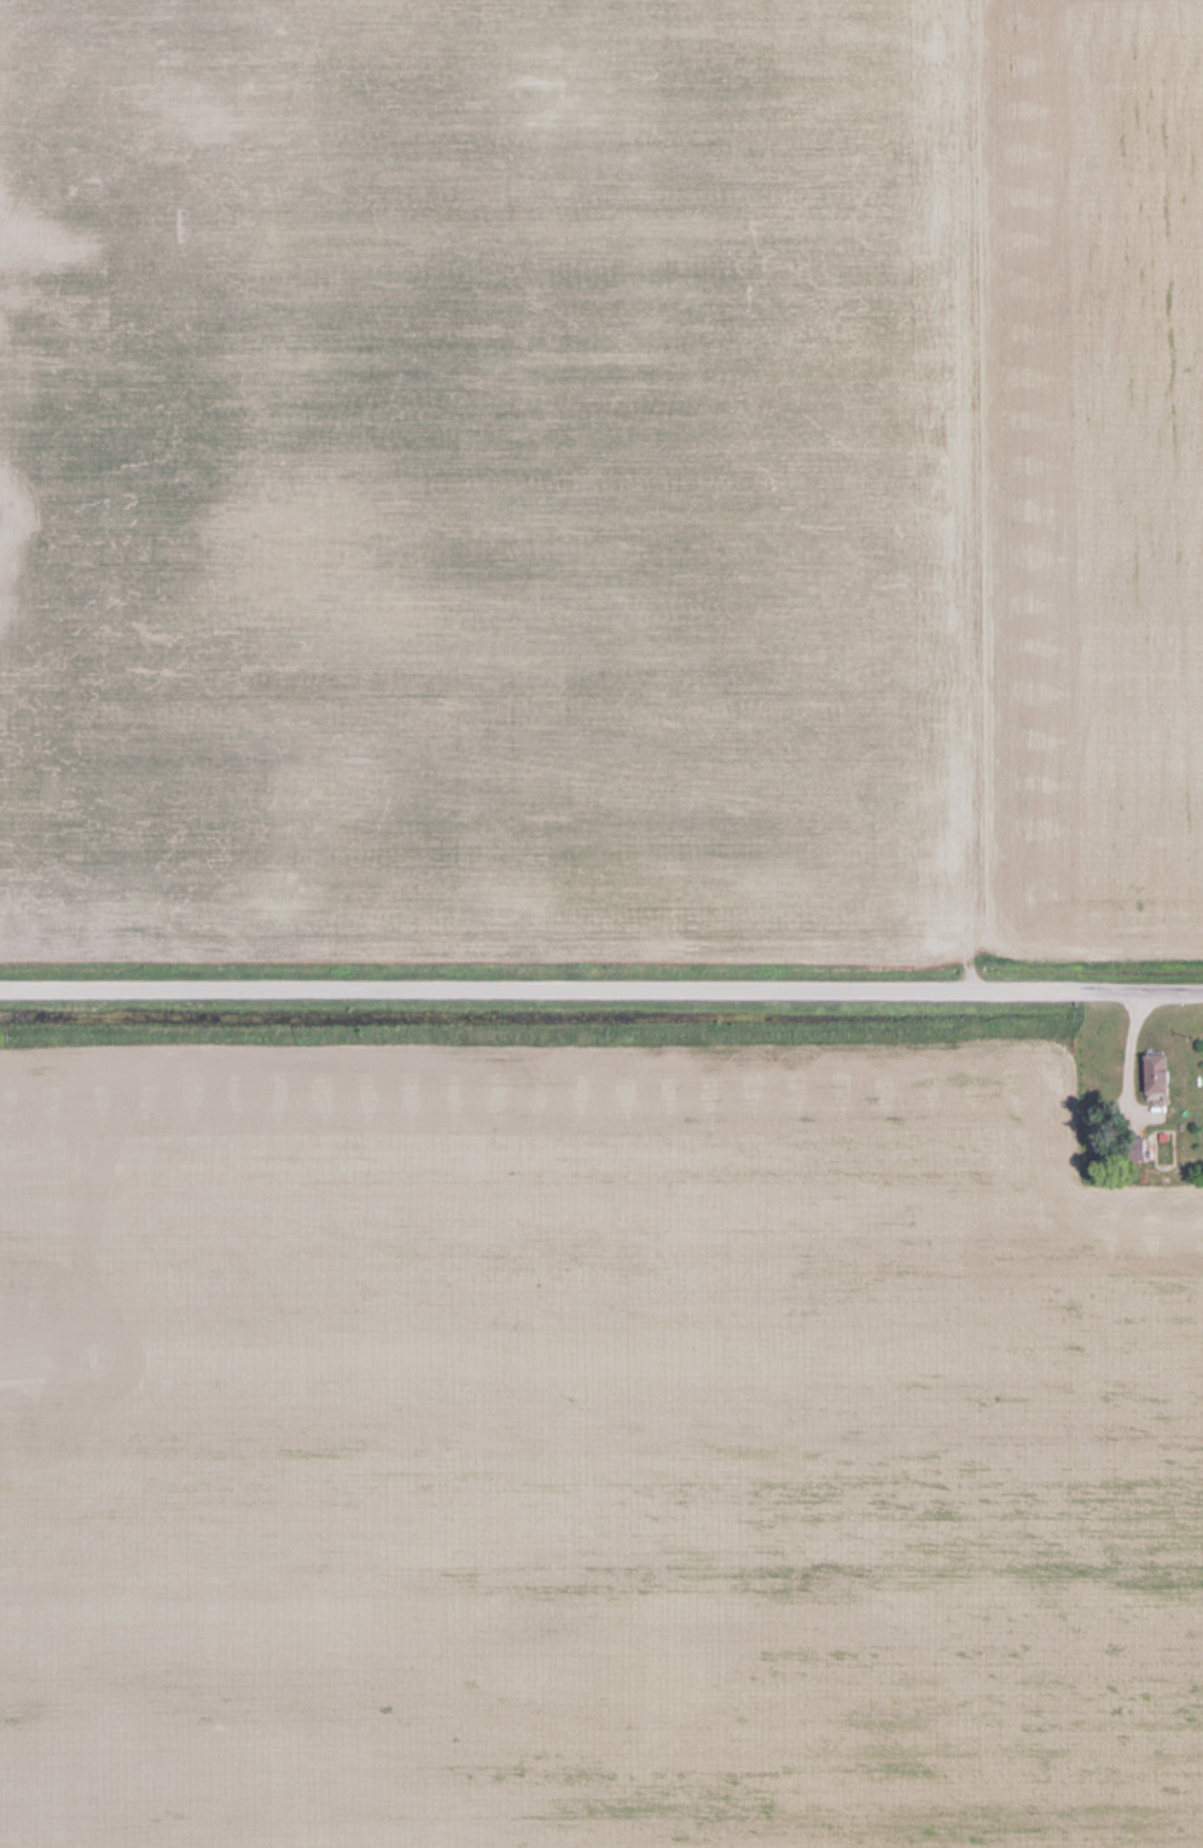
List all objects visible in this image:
road: (600, 991)
building: (1149, 1073)
building: (1131, 1149)

